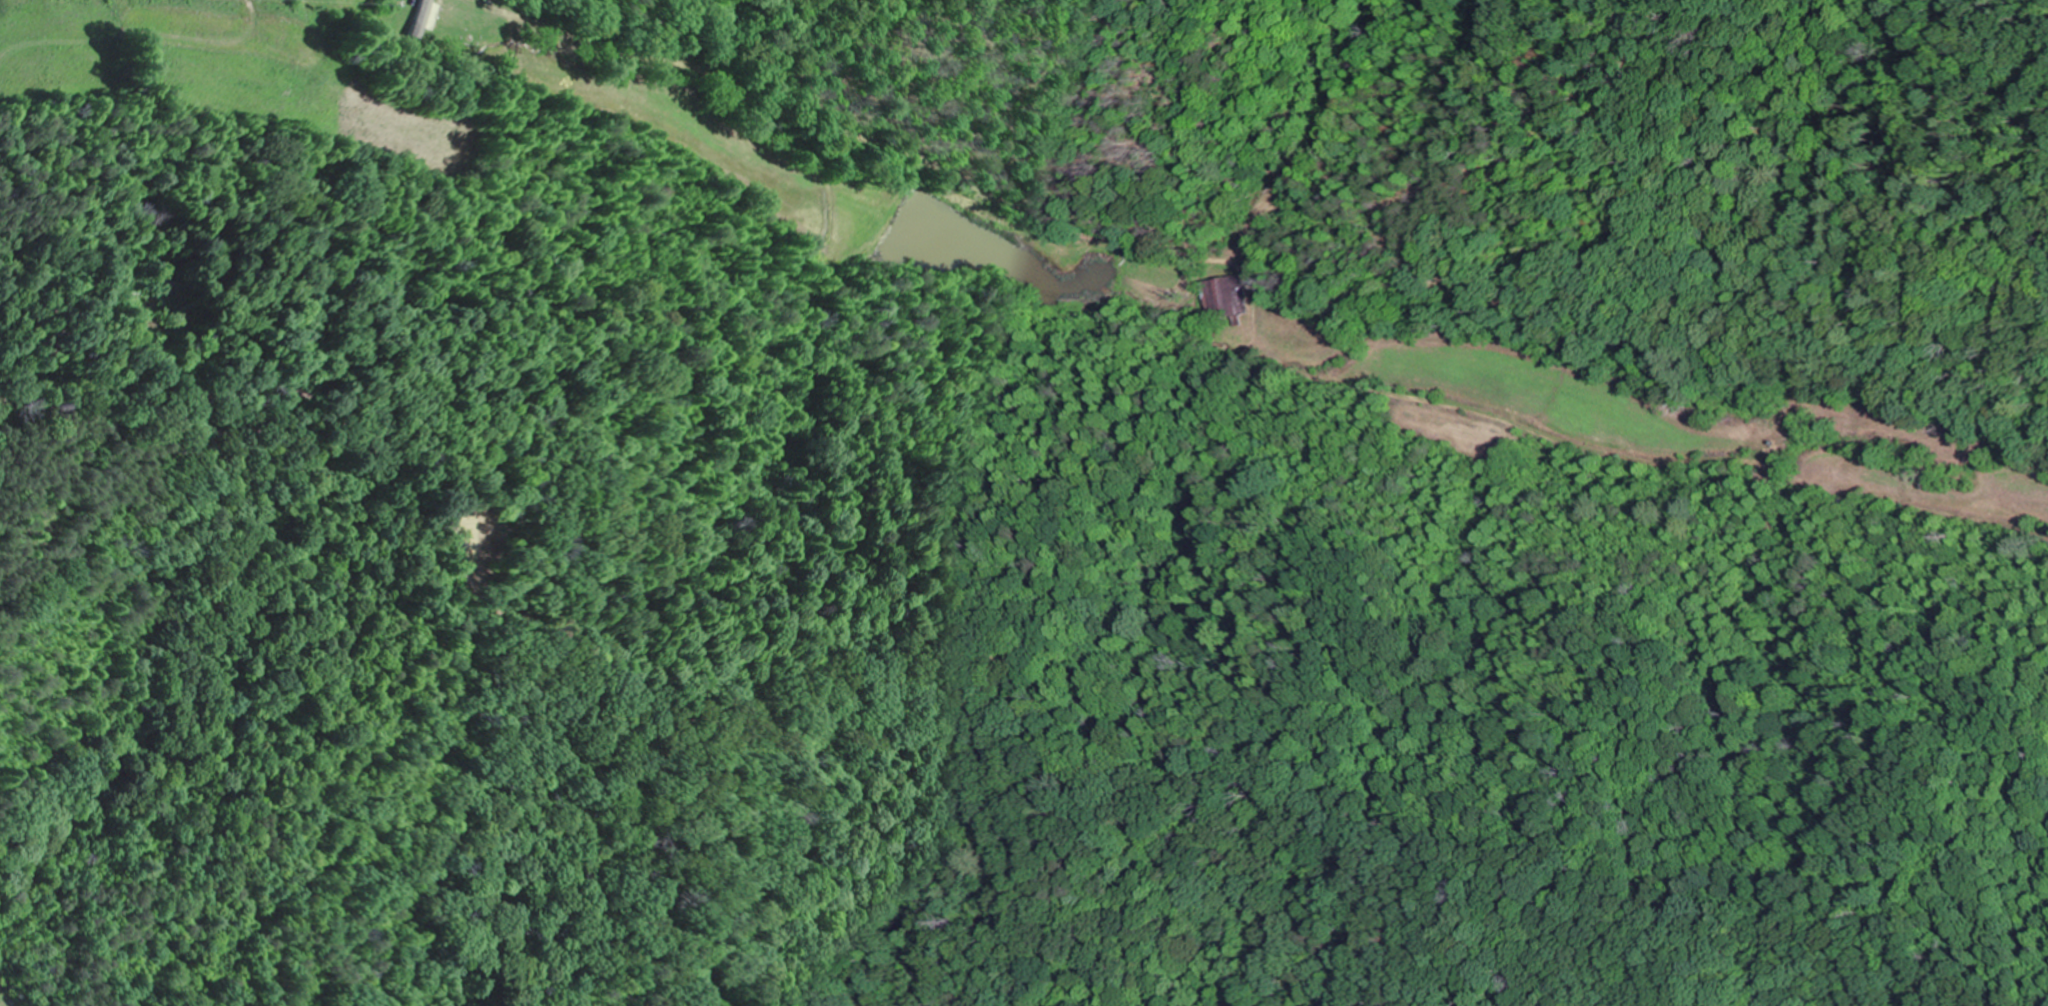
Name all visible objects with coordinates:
building: (422, 19)
building: (1229, 298)

